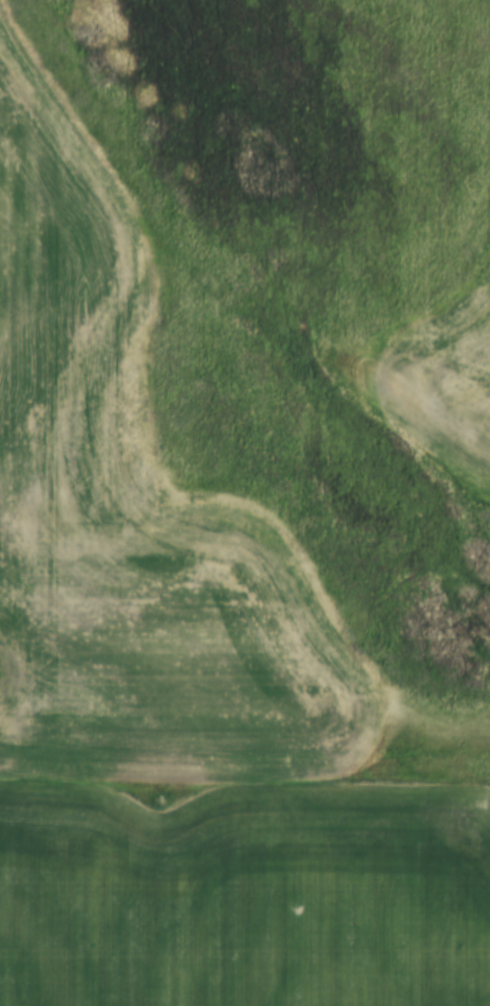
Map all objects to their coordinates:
road: (245, 778)

